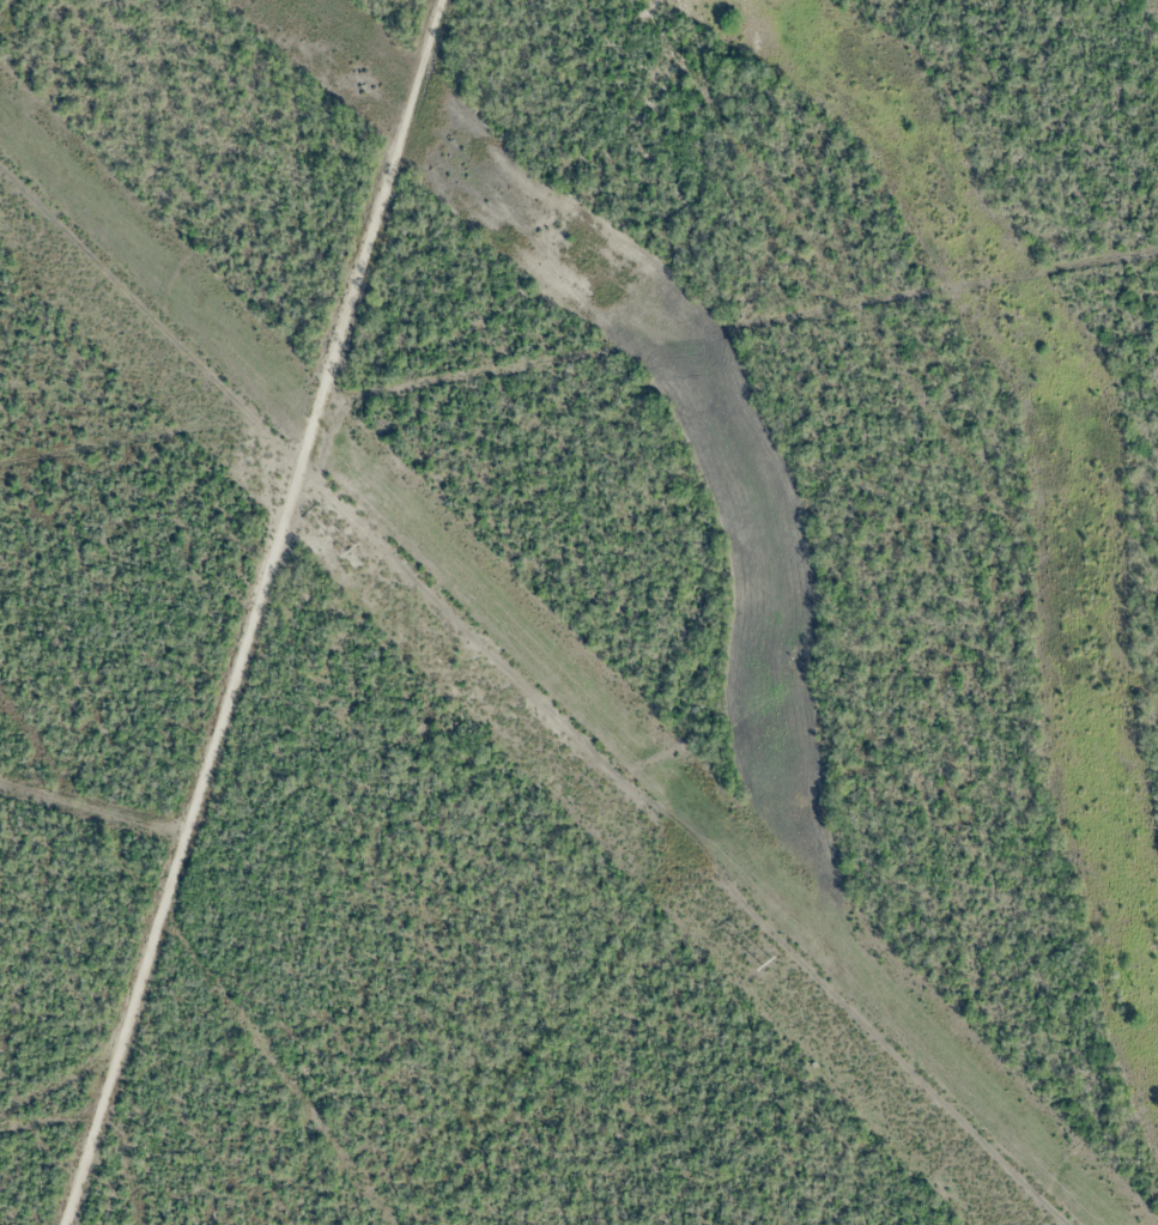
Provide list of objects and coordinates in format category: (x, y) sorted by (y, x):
power tower: (354, 554)
power tower: (768, 964)

